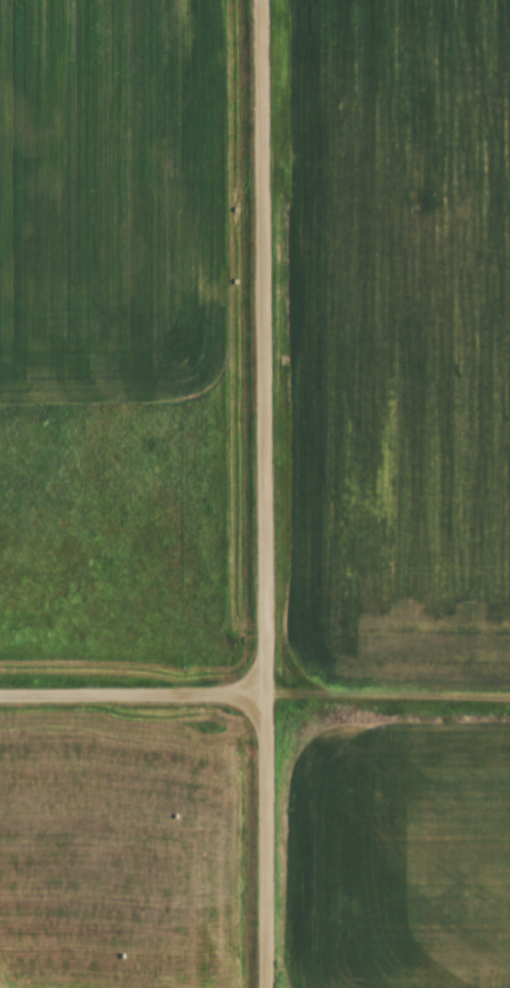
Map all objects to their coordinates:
road: (266, 494)
road: (133, 694)
road: (388, 694)

